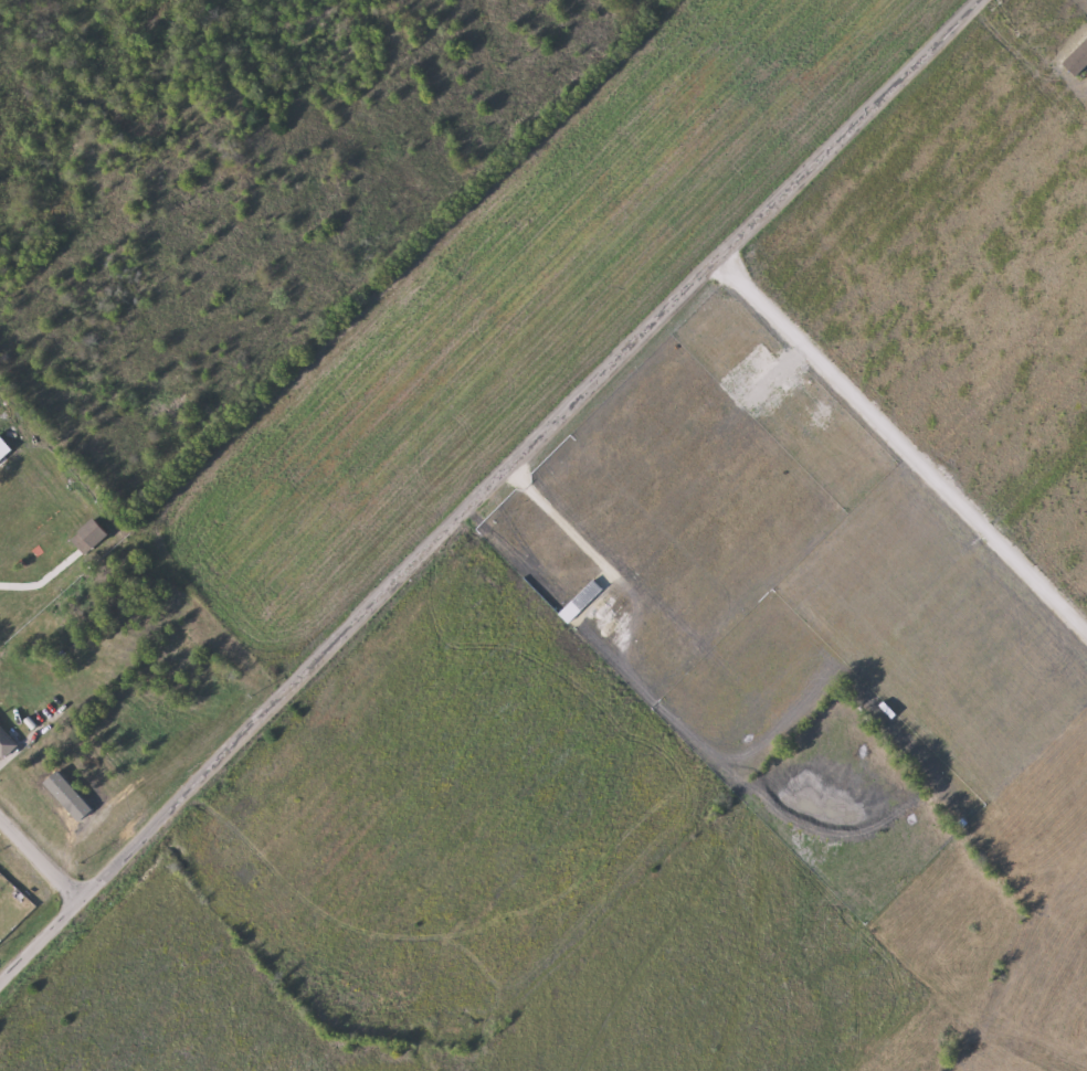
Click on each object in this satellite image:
road: (992, 190)
road: (488, 489)
building: (6, 742)
road: (41, 857)

